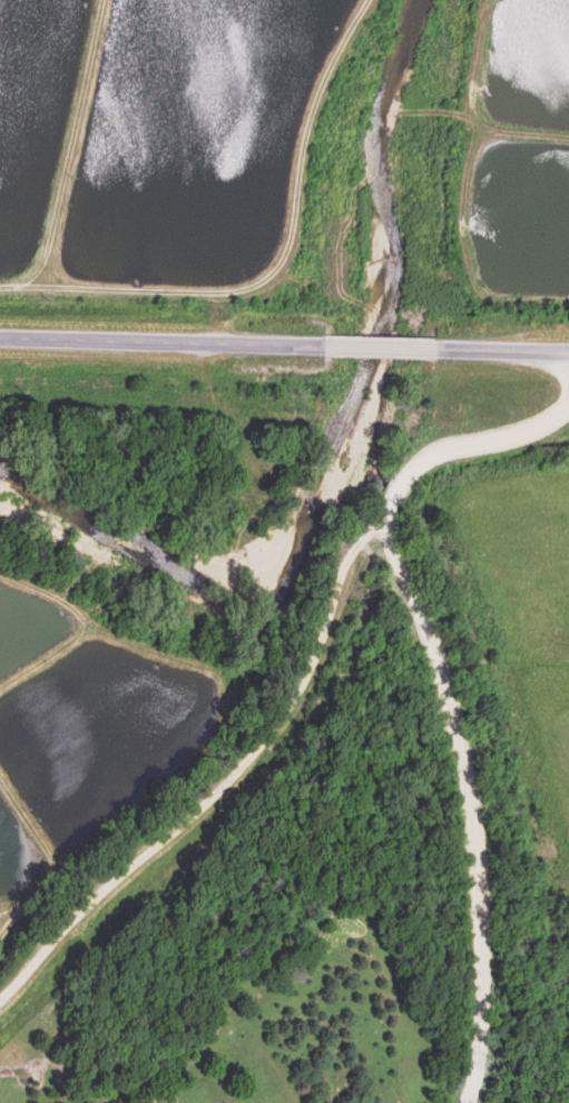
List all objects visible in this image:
road: (284, 344)
road: (405, 473)
road: (212, 779)
road: (492, 865)

